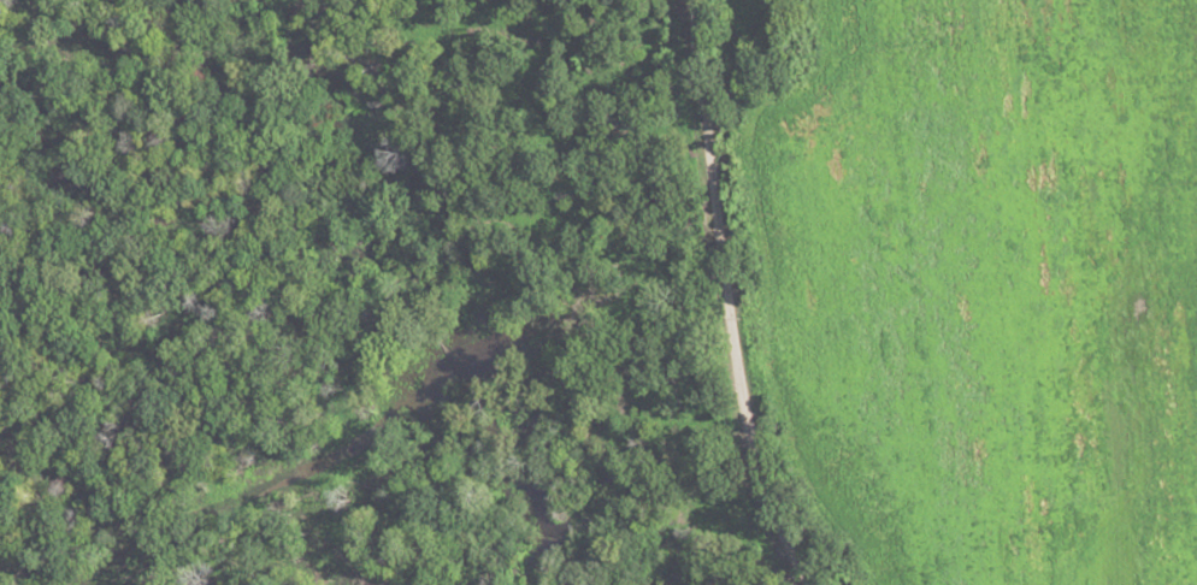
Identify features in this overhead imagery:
crop: (990, 284)
road: (726, 291)

